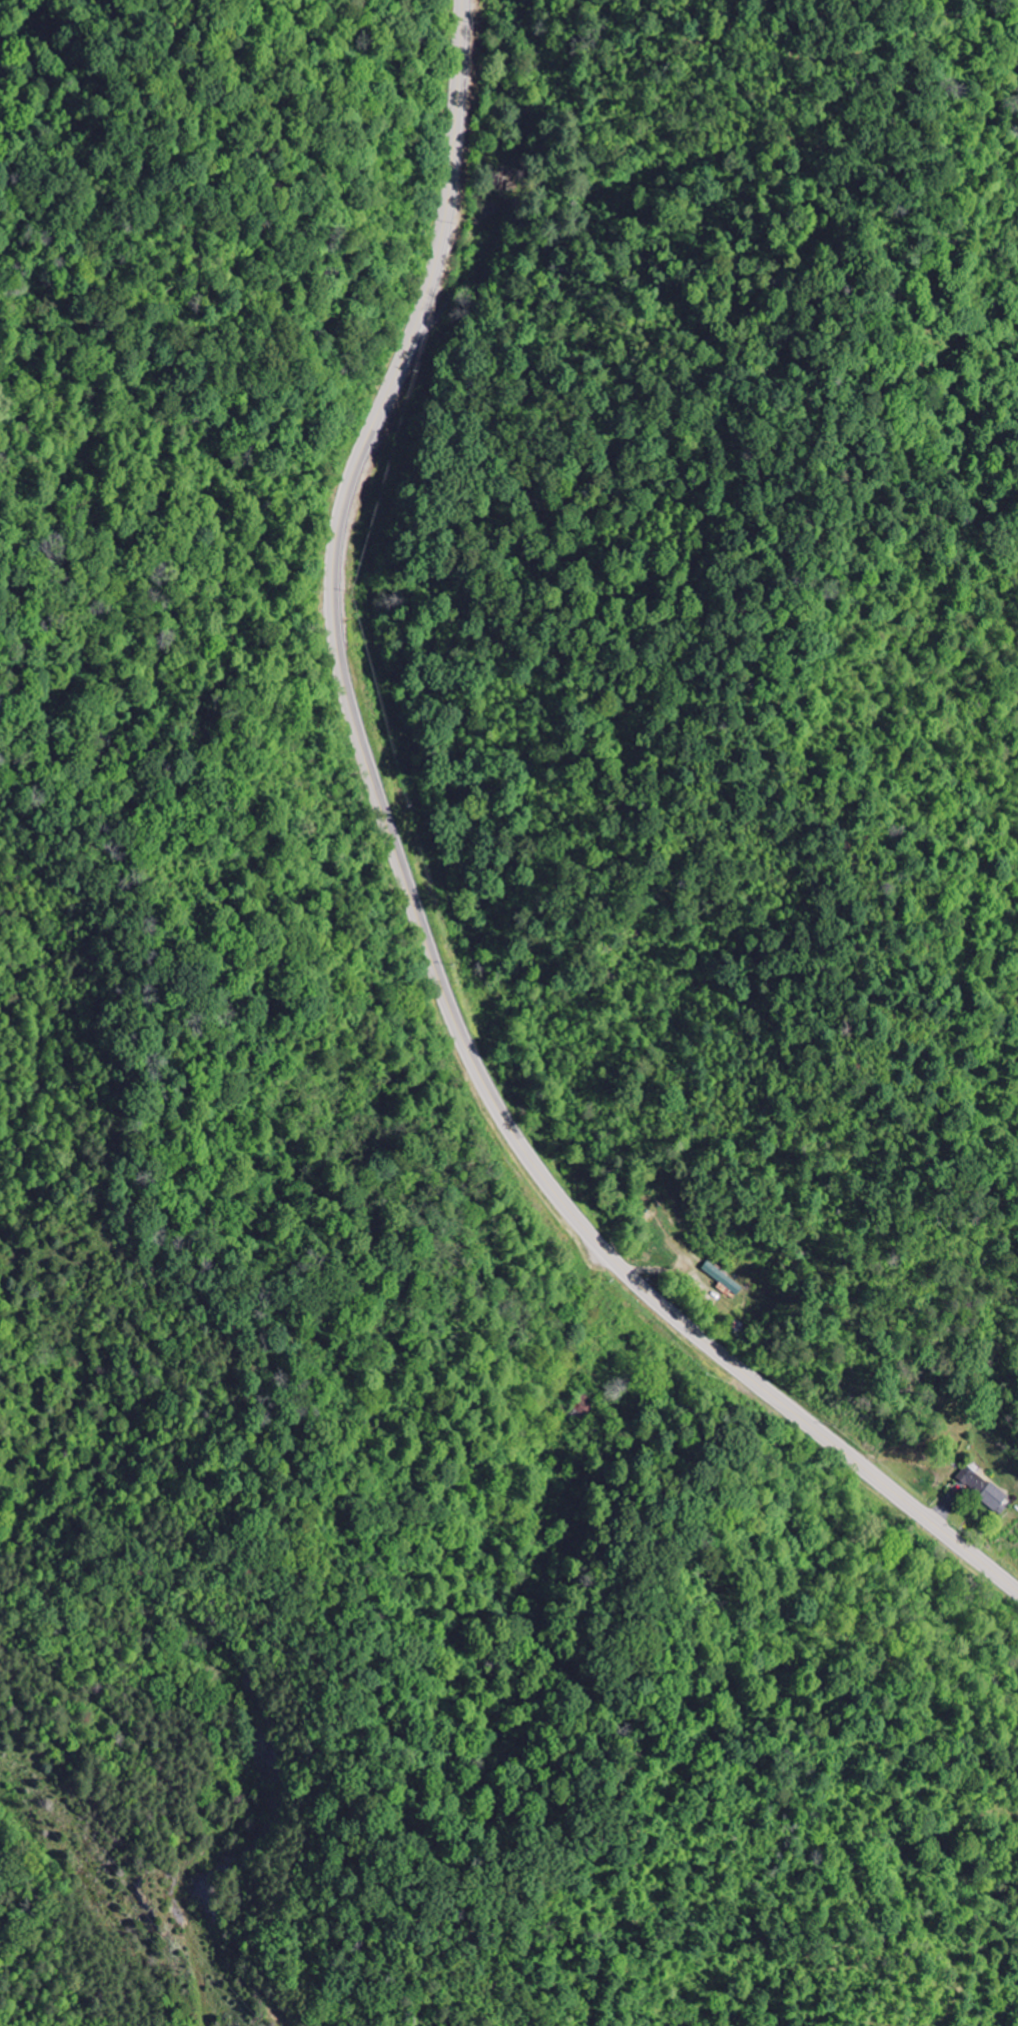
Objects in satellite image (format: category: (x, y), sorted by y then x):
road: (412, 905)
building: (720, 1278)
building: (982, 1492)

